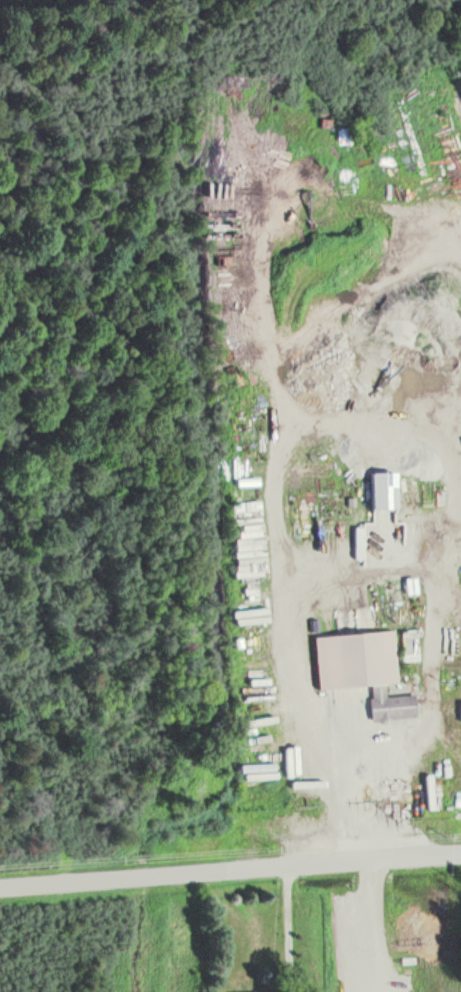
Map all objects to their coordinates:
building: (245, 509)
building: (457, 637)
building: (409, 644)
building: (362, 669)
road: (230, 869)

